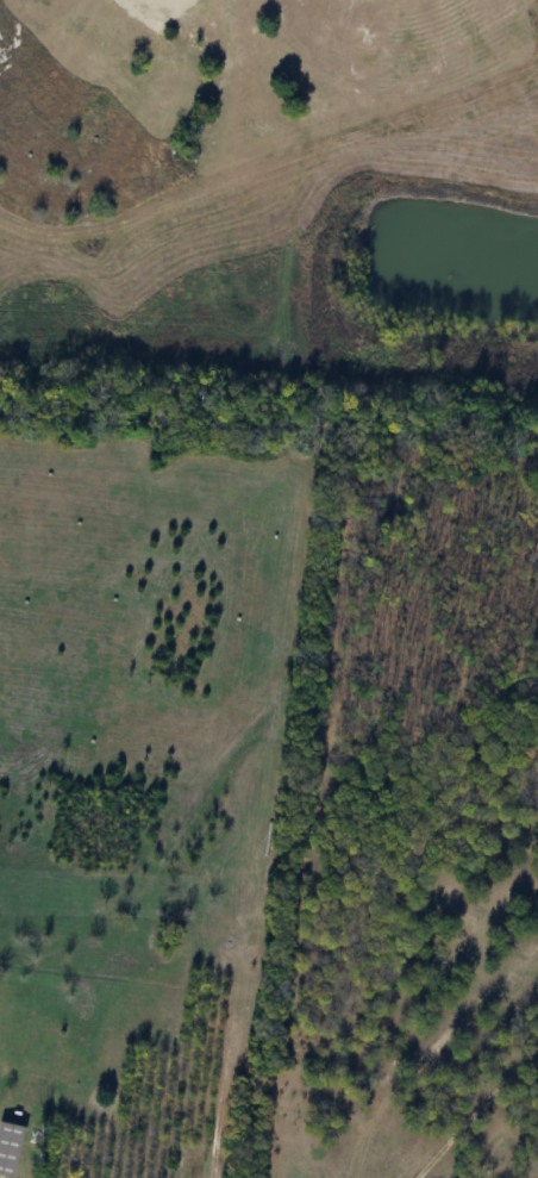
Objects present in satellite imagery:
road: (168, 5)
road: (474, 1111)

